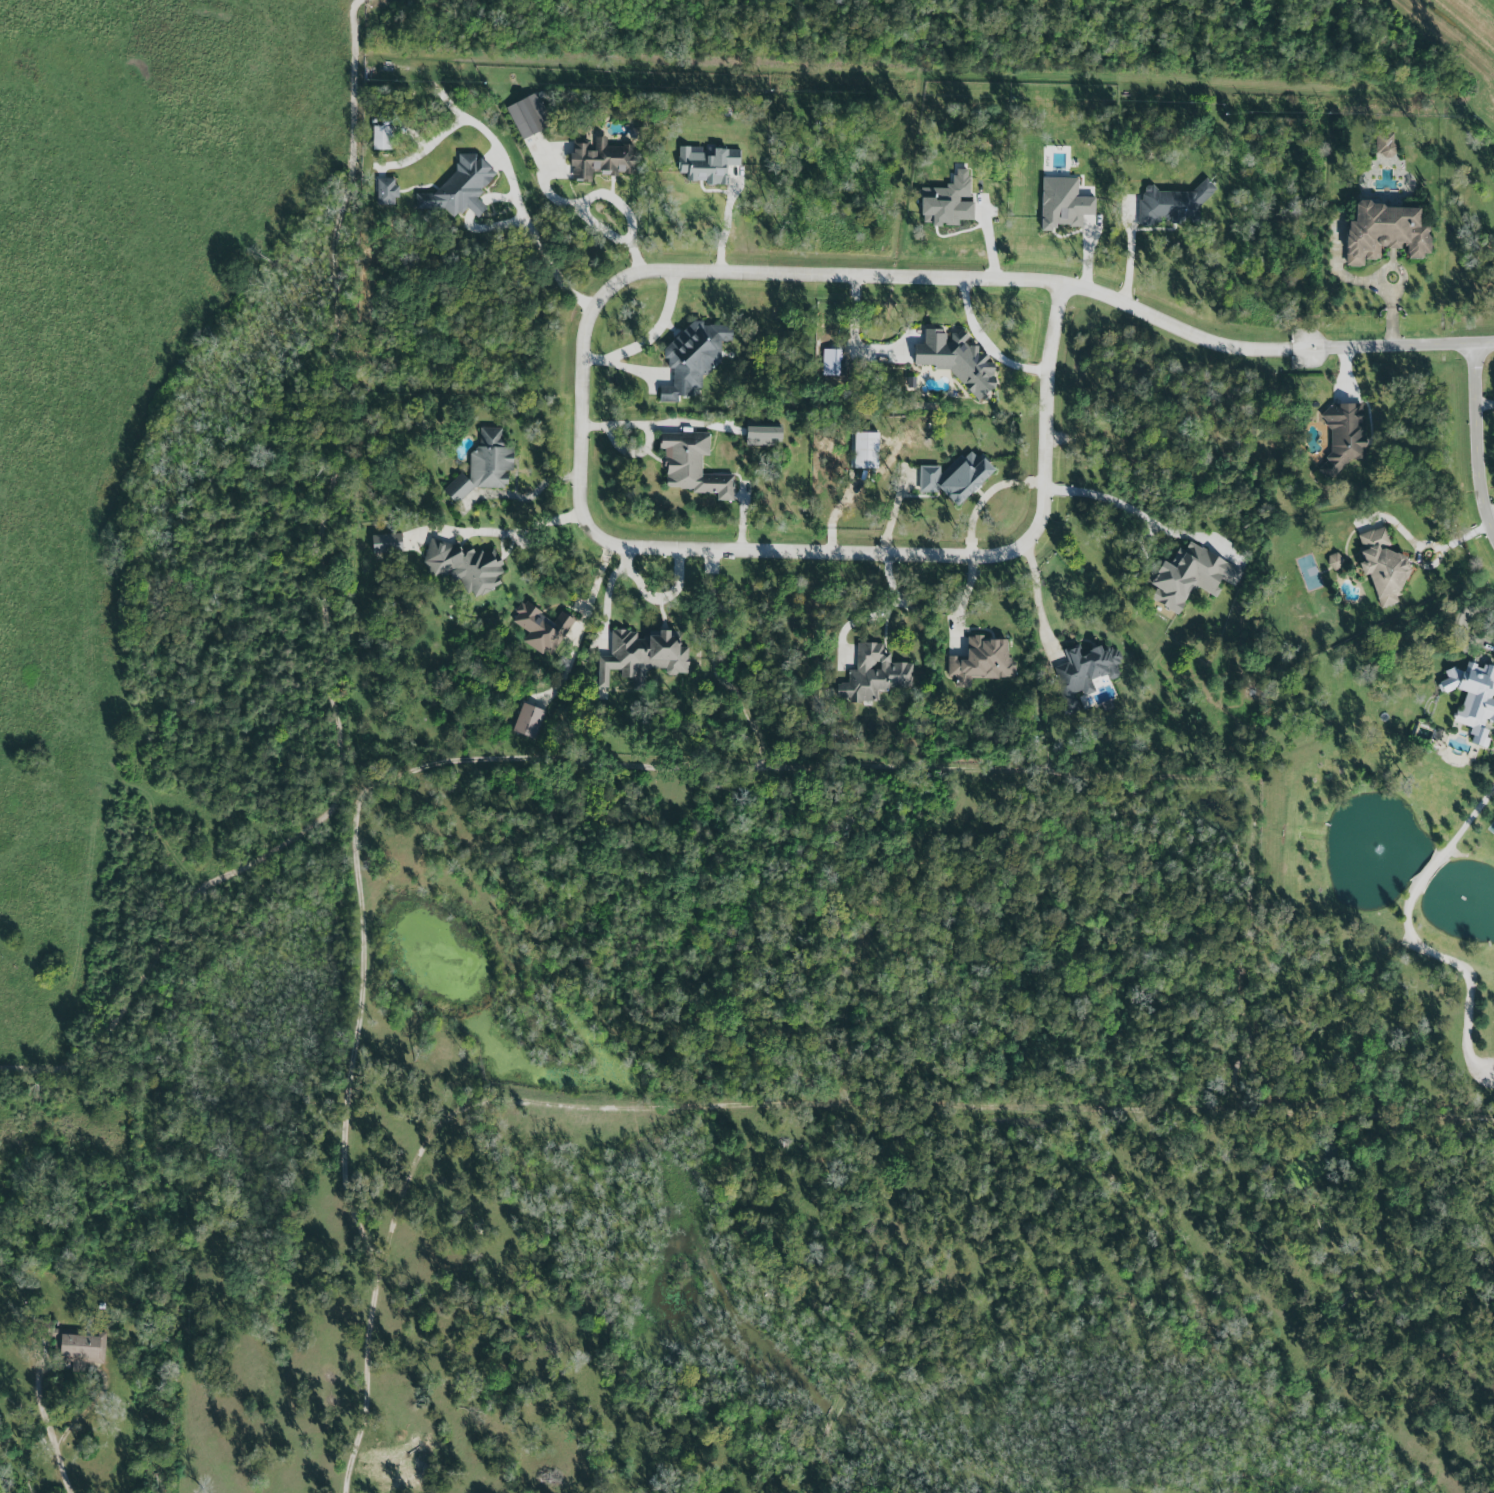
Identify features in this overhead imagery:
building: (529, 116)
road: (448, 130)
building: (382, 138)
building: (1384, 144)
building: (601, 160)
building: (707, 163)
building: (461, 189)
building: (387, 191)
road: (598, 197)
building: (948, 199)
building: (1060, 200)
building: (1173, 205)
building: (1386, 234)
road: (540, 242)
road: (1367, 284)
road: (651, 336)
road: (987, 345)
road: (1271, 348)
building: (694, 358)
building: (956, 360)
road: (639, 369)
road: (1483, 404)
building: (763, 436)
building: (1345, 437)
road: (1474, 439)
building: (865, 450)
building: (693, 465)
building: (485, 466)
building: (957, 480)
road: (988, 493)
road: (1106, 502)
road: (1491, 514)
road: (541, 525)
road: (596, 528)
building: (387, 543)
road: (1422, 546)
building: (1335, 561)
building: (465, 566)
building: (1384, 566)
building: (1186, 573)
road: (1036, 592)
road: (655, 600)
road: (606, 602)
road: (884, 615)
road: (585, 621)
road: (1460, 623)
road: (327, 624)
building: (541, 627)
building: (642, 656)
building: (981, 660)
building: (1084, 670)
building: (873, 673)
building: (1473, 698)
building: (528, 721)
road: (1410, 937)
road: (459, 1111)
building: (73, 1346)
road: (52, 1426)

